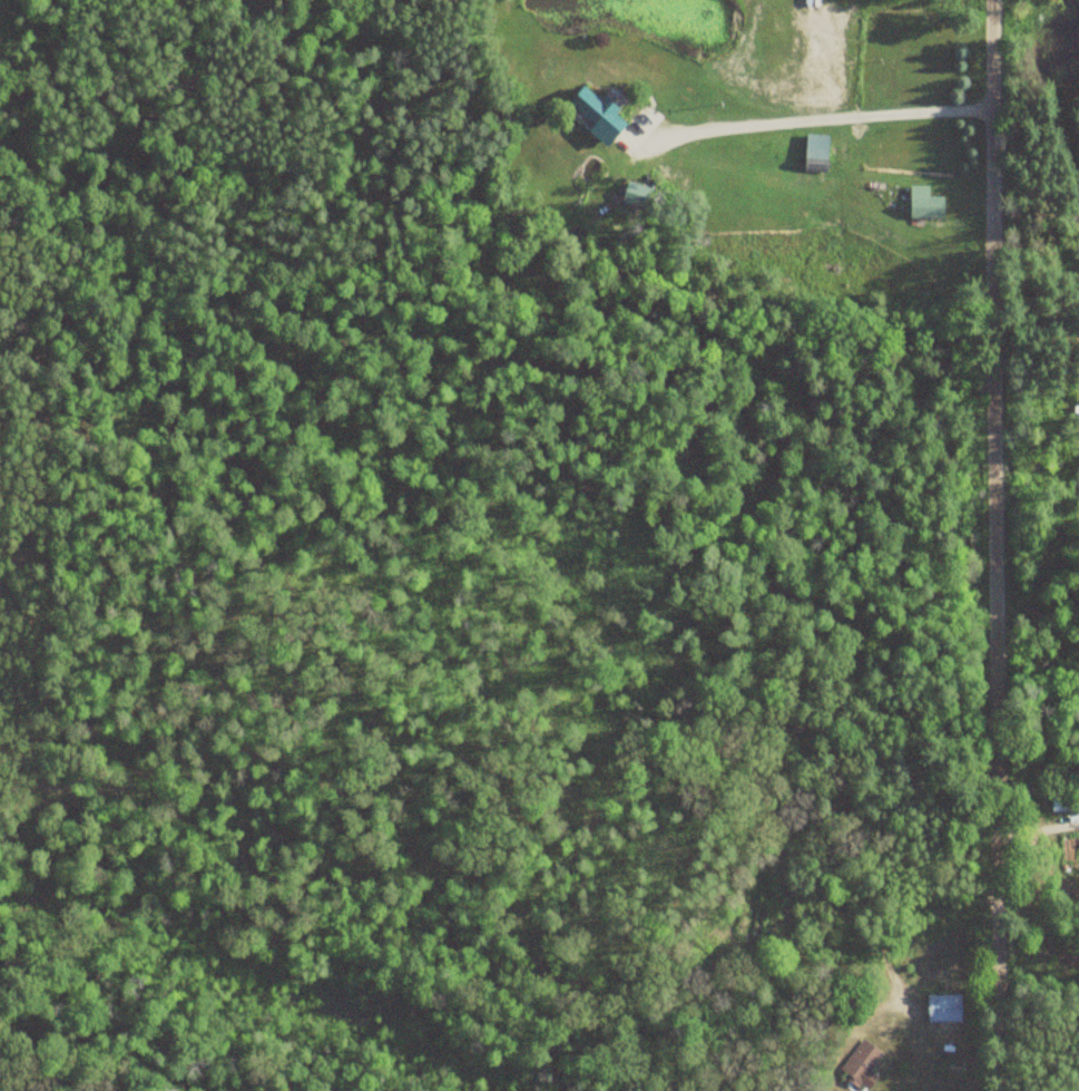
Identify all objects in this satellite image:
building: (594, 115)
building: (812, 153)
building: (921, 204)
road: (992, 545)
building: (940, 1010)
building: (859, 1066)

